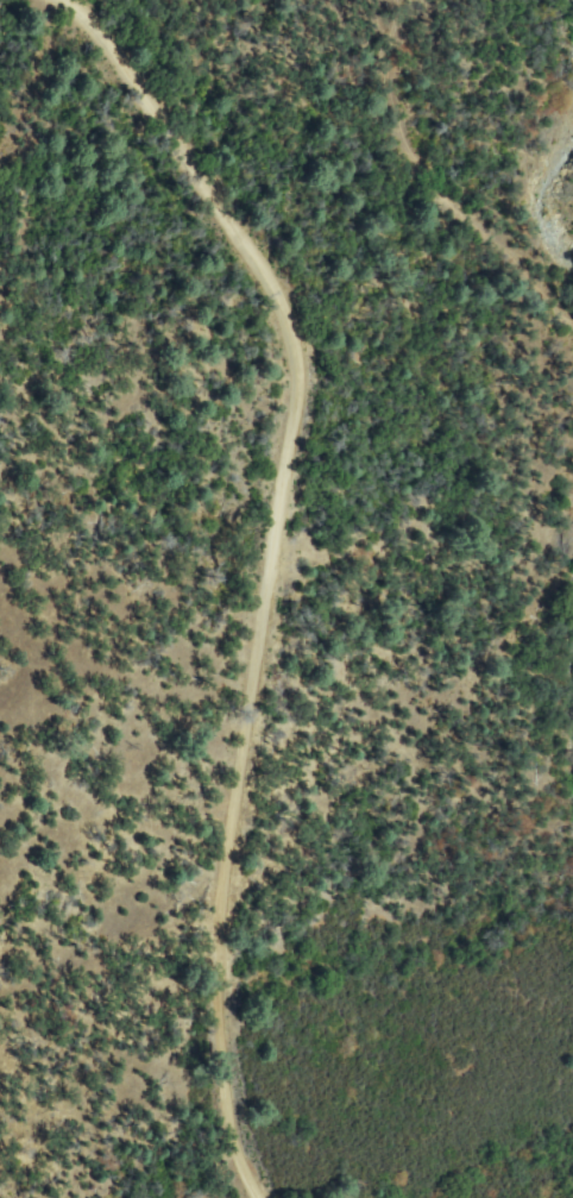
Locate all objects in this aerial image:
road: (266, 563)

